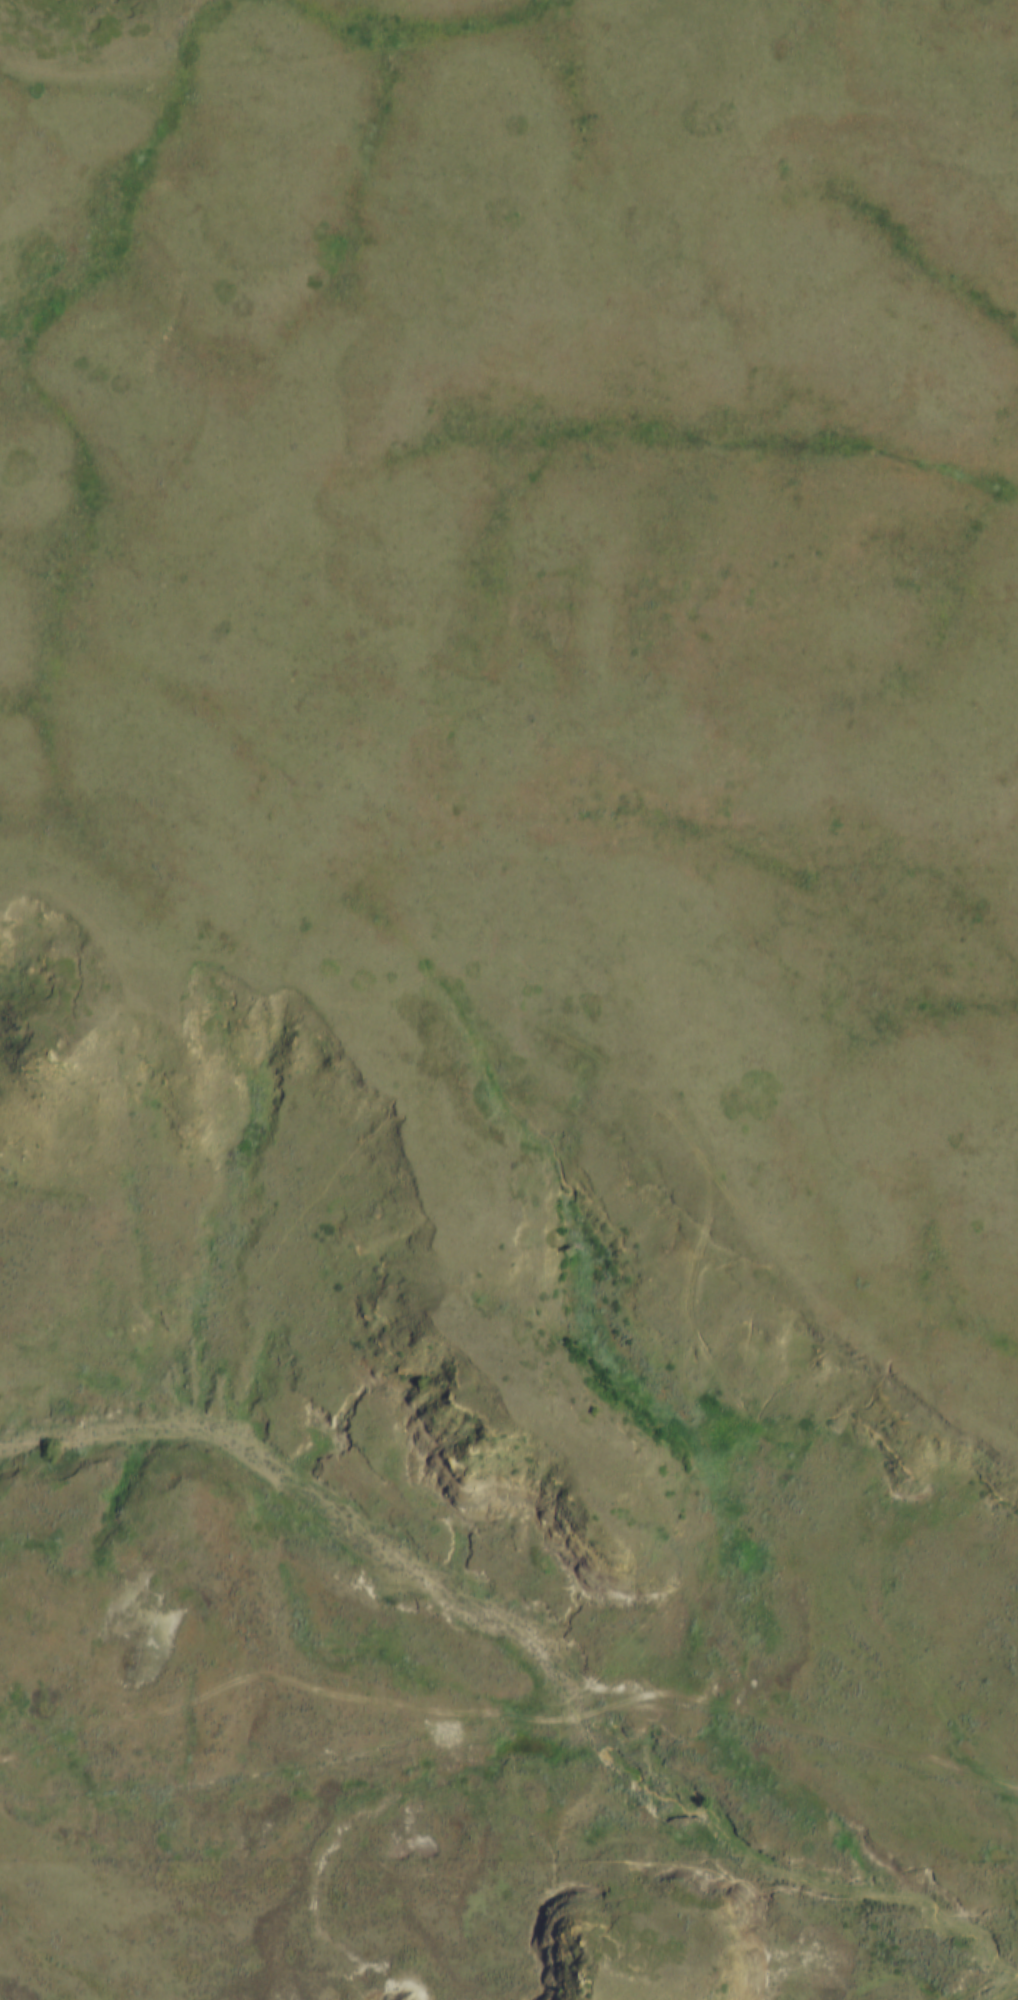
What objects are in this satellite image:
road: (508, 1700)

